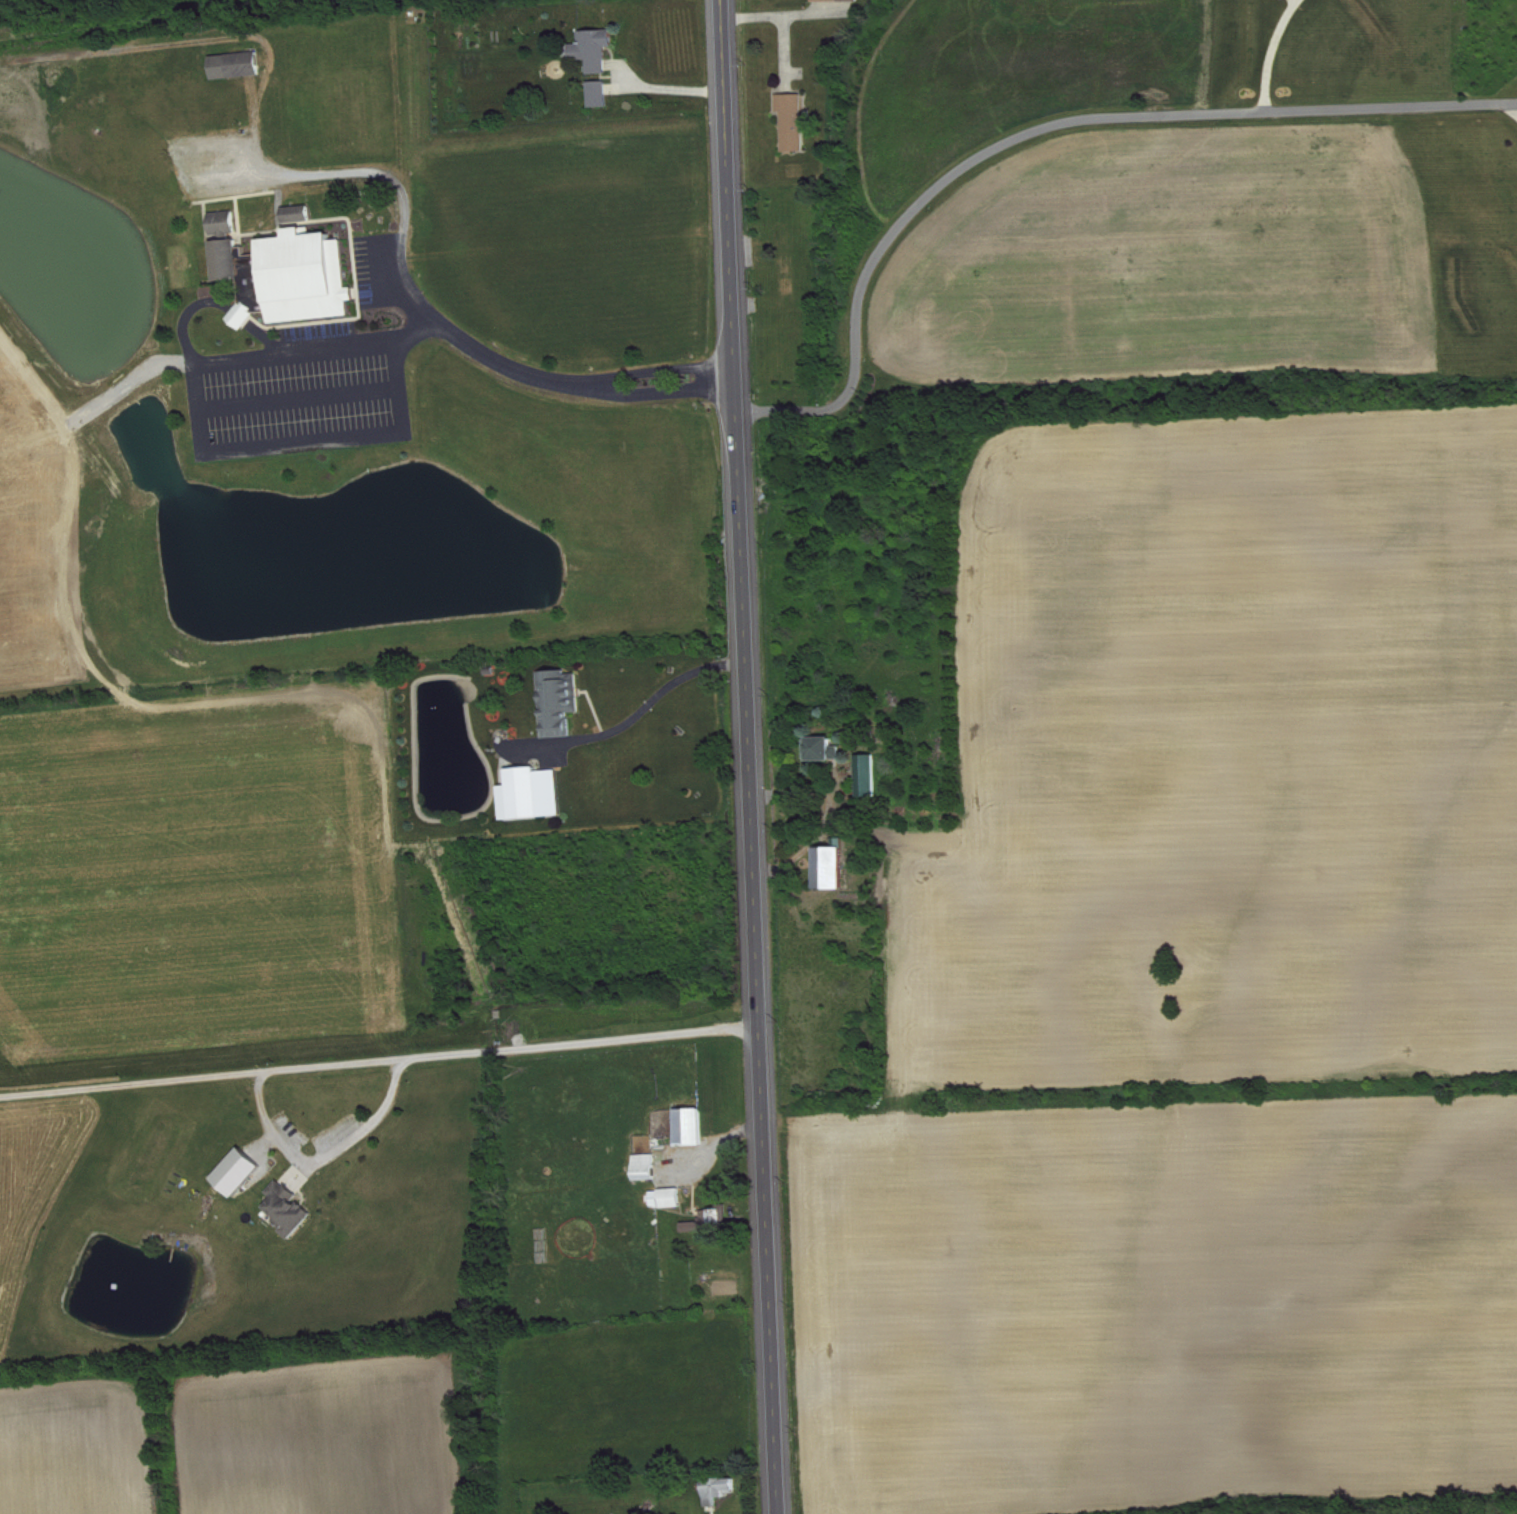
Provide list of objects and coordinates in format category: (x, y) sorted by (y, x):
building: (840, 1)
road: (776, 20)
building: (598, 50)
road: (1277, 54)
building: (240, 66)
building: (603, 95)
road: (1514, 108)
building: (797, 122)
road: (1045, 130)
building: (303, 215)
building: (228, 223)
building: (244, 266)
building: (311, 278)
road: (414, 296)
building: (248, 316)
road: (617, 384)
road: (222, 451)
building: (564, 703)
road: (633, 725)
building: (826, 750)
road: (751, 756)
building: (871, 777)
building: (535, 795)
building: (835, 869)
road: (381, 1064)
building: (695, 1128)
road: (331, 1160)
building: (650, 1169)
building: (243, 1173)
building: (673, 1198)
building: (293, 1210)
building: (712, 1223)
building: (723, 1491)

